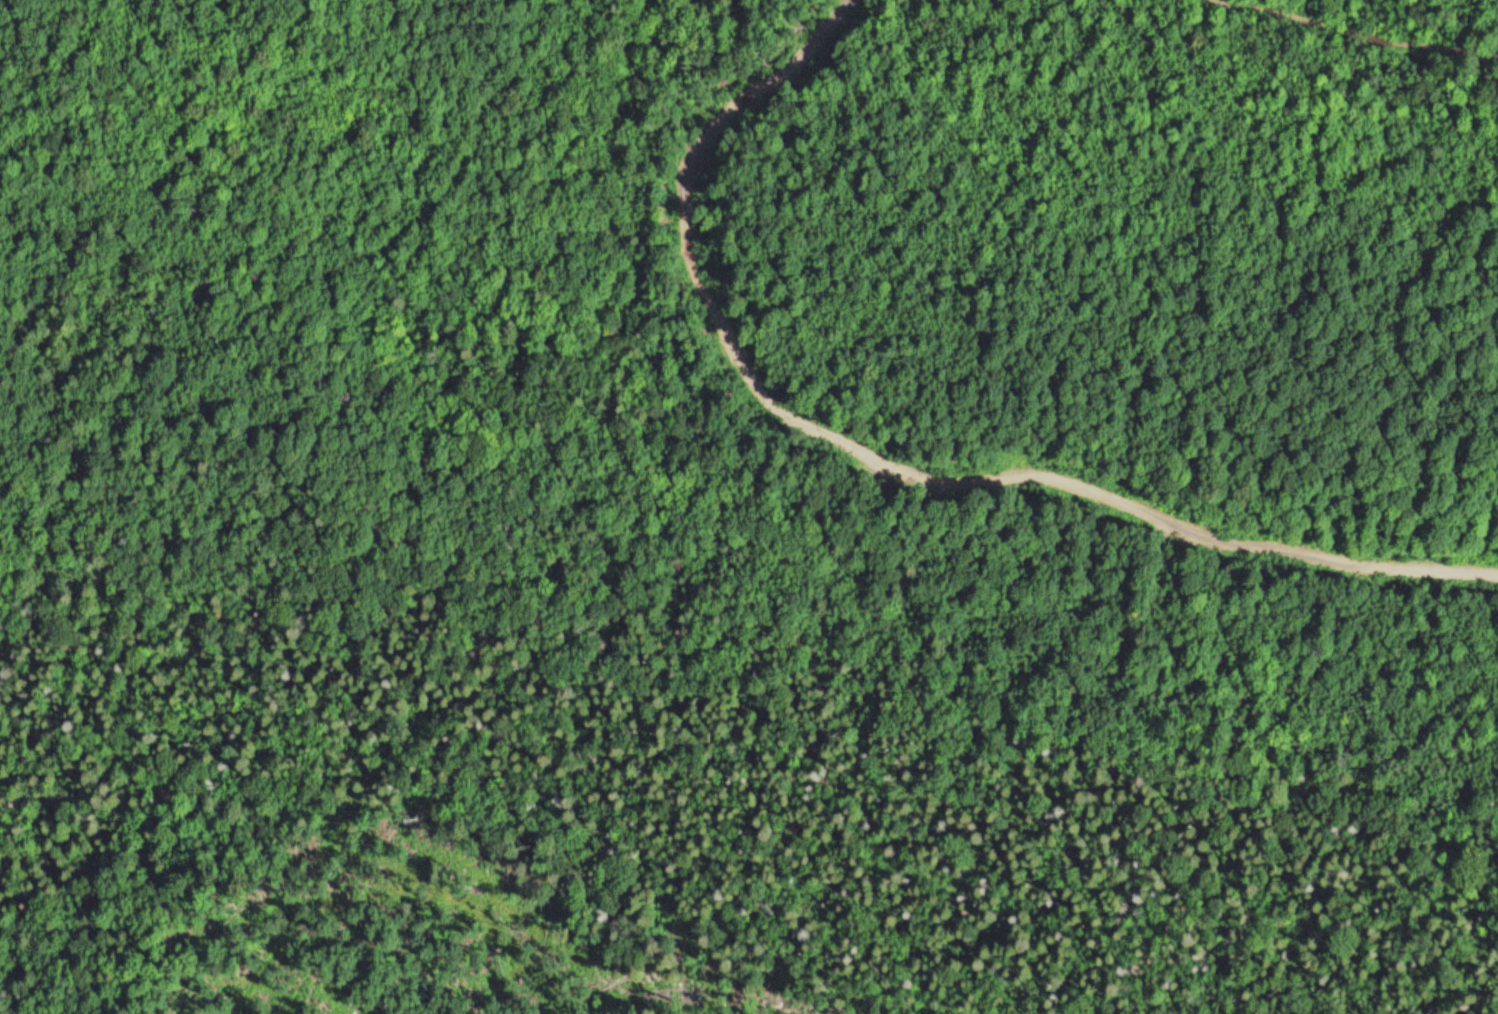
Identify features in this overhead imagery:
road: (1371, 30)
road: (1402, 566)

